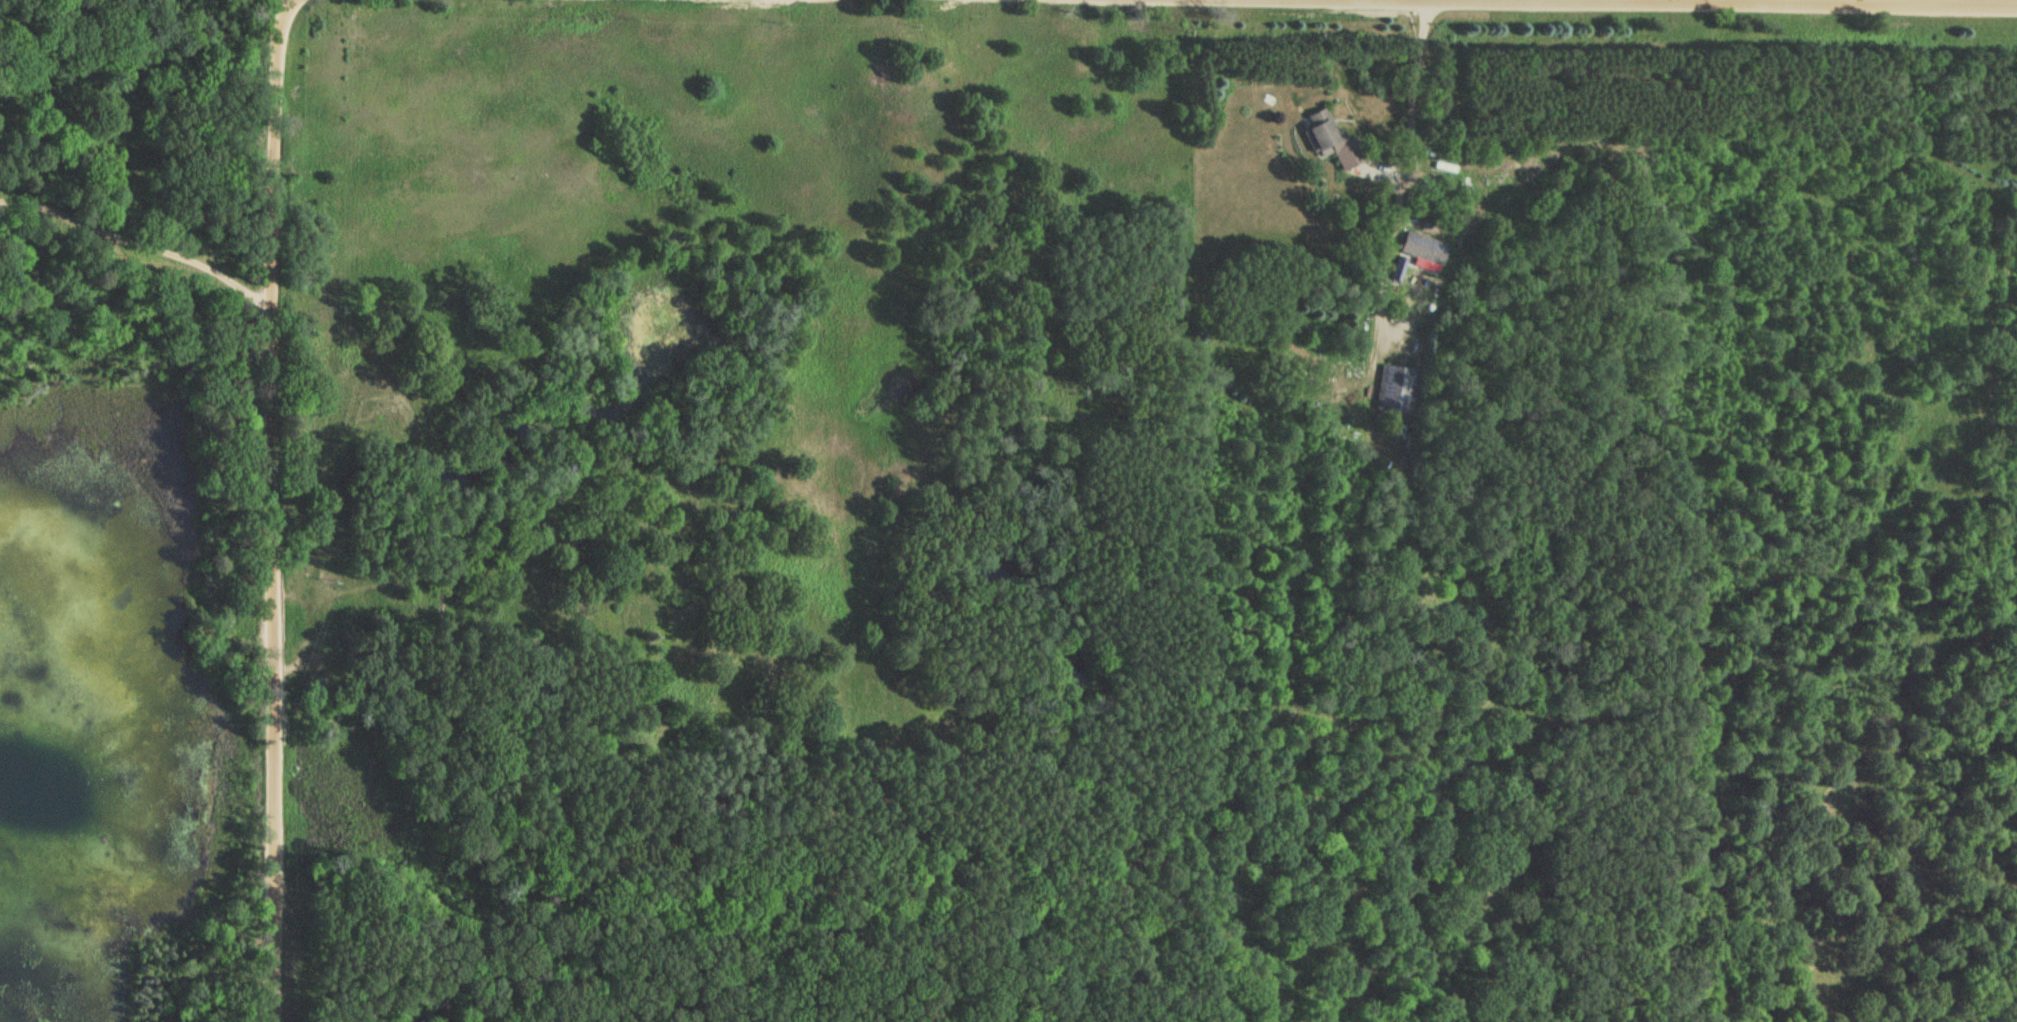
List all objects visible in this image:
road: (1856, 2)
building: (1328, 137)
road: (1380, 172)
road: (1404, 175)
road: (139, 239)
building: (1422, 244)
building: (1396, 387)
road: (270, 509)

